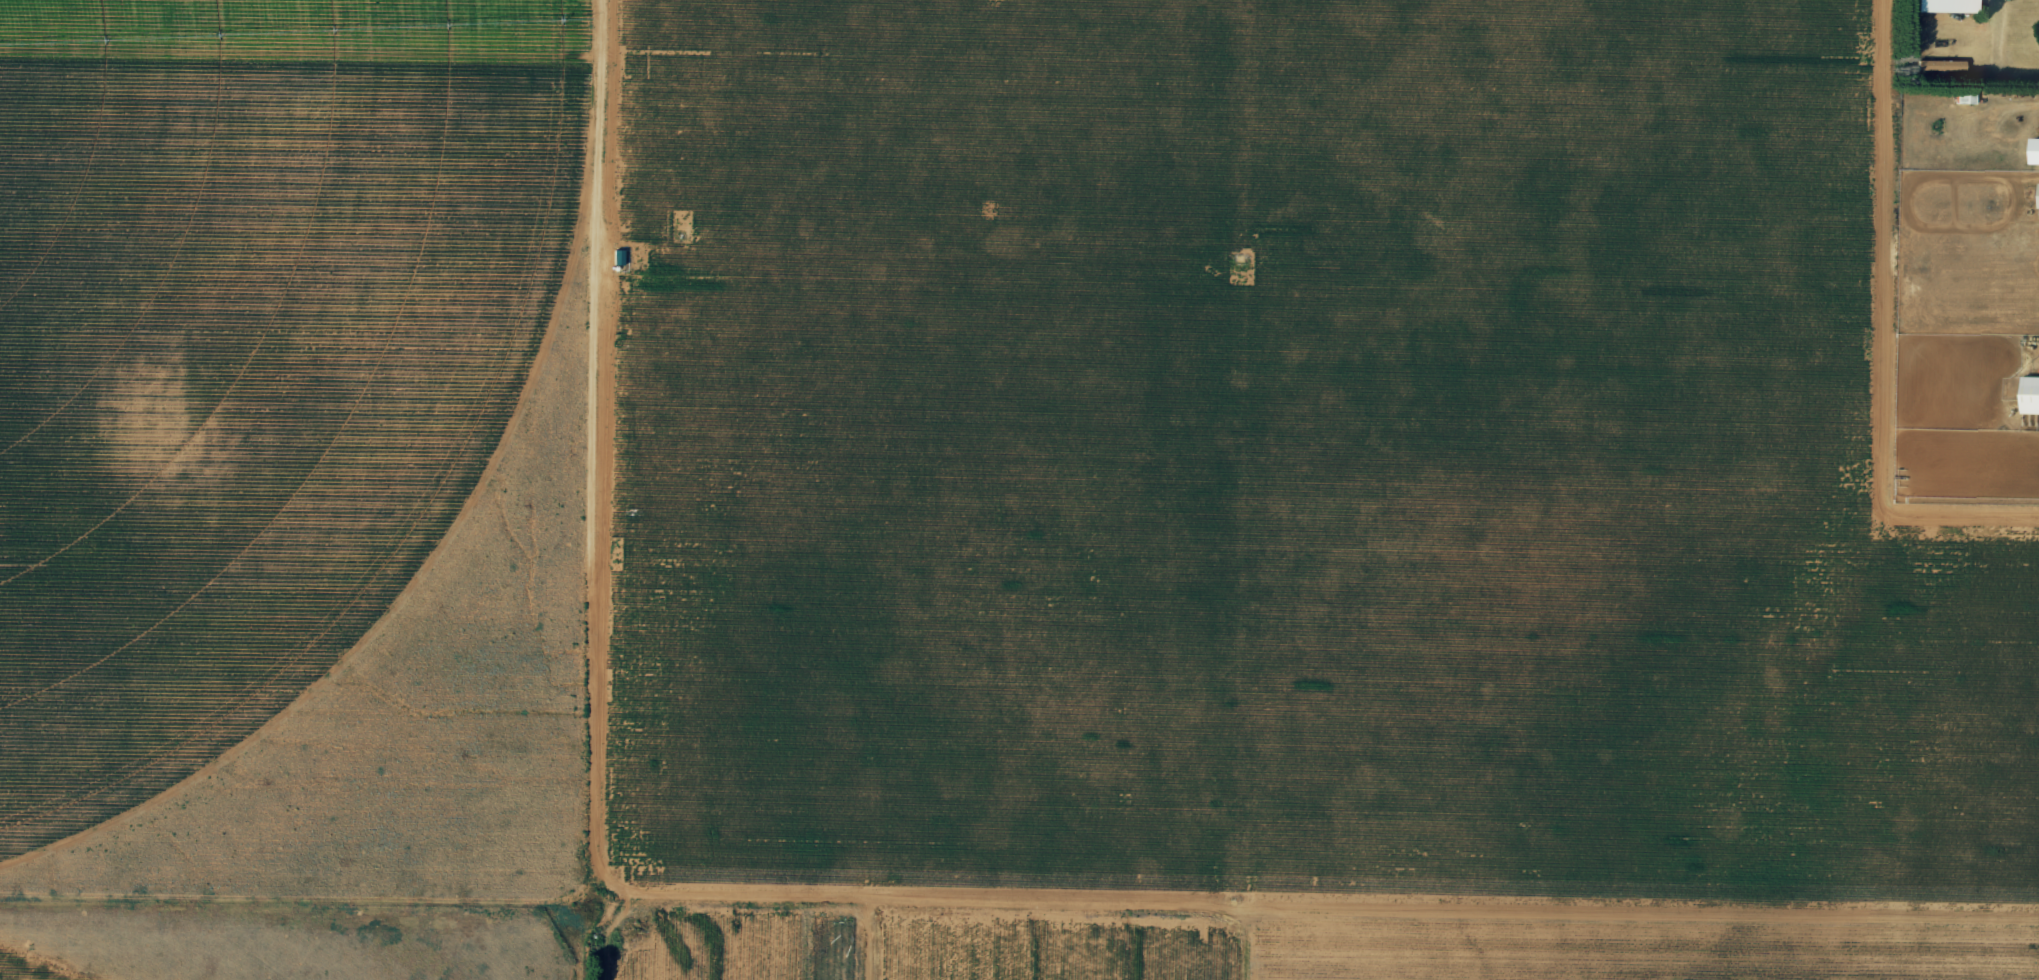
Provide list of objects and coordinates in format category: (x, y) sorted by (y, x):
building: (1951, 5)
building: (2033, 150)
building: (2037, 195)
building: (2028, 394)
road: (558, 489)
road: (987, 919)
road: (1257, 949)
road: (1974, 954)

